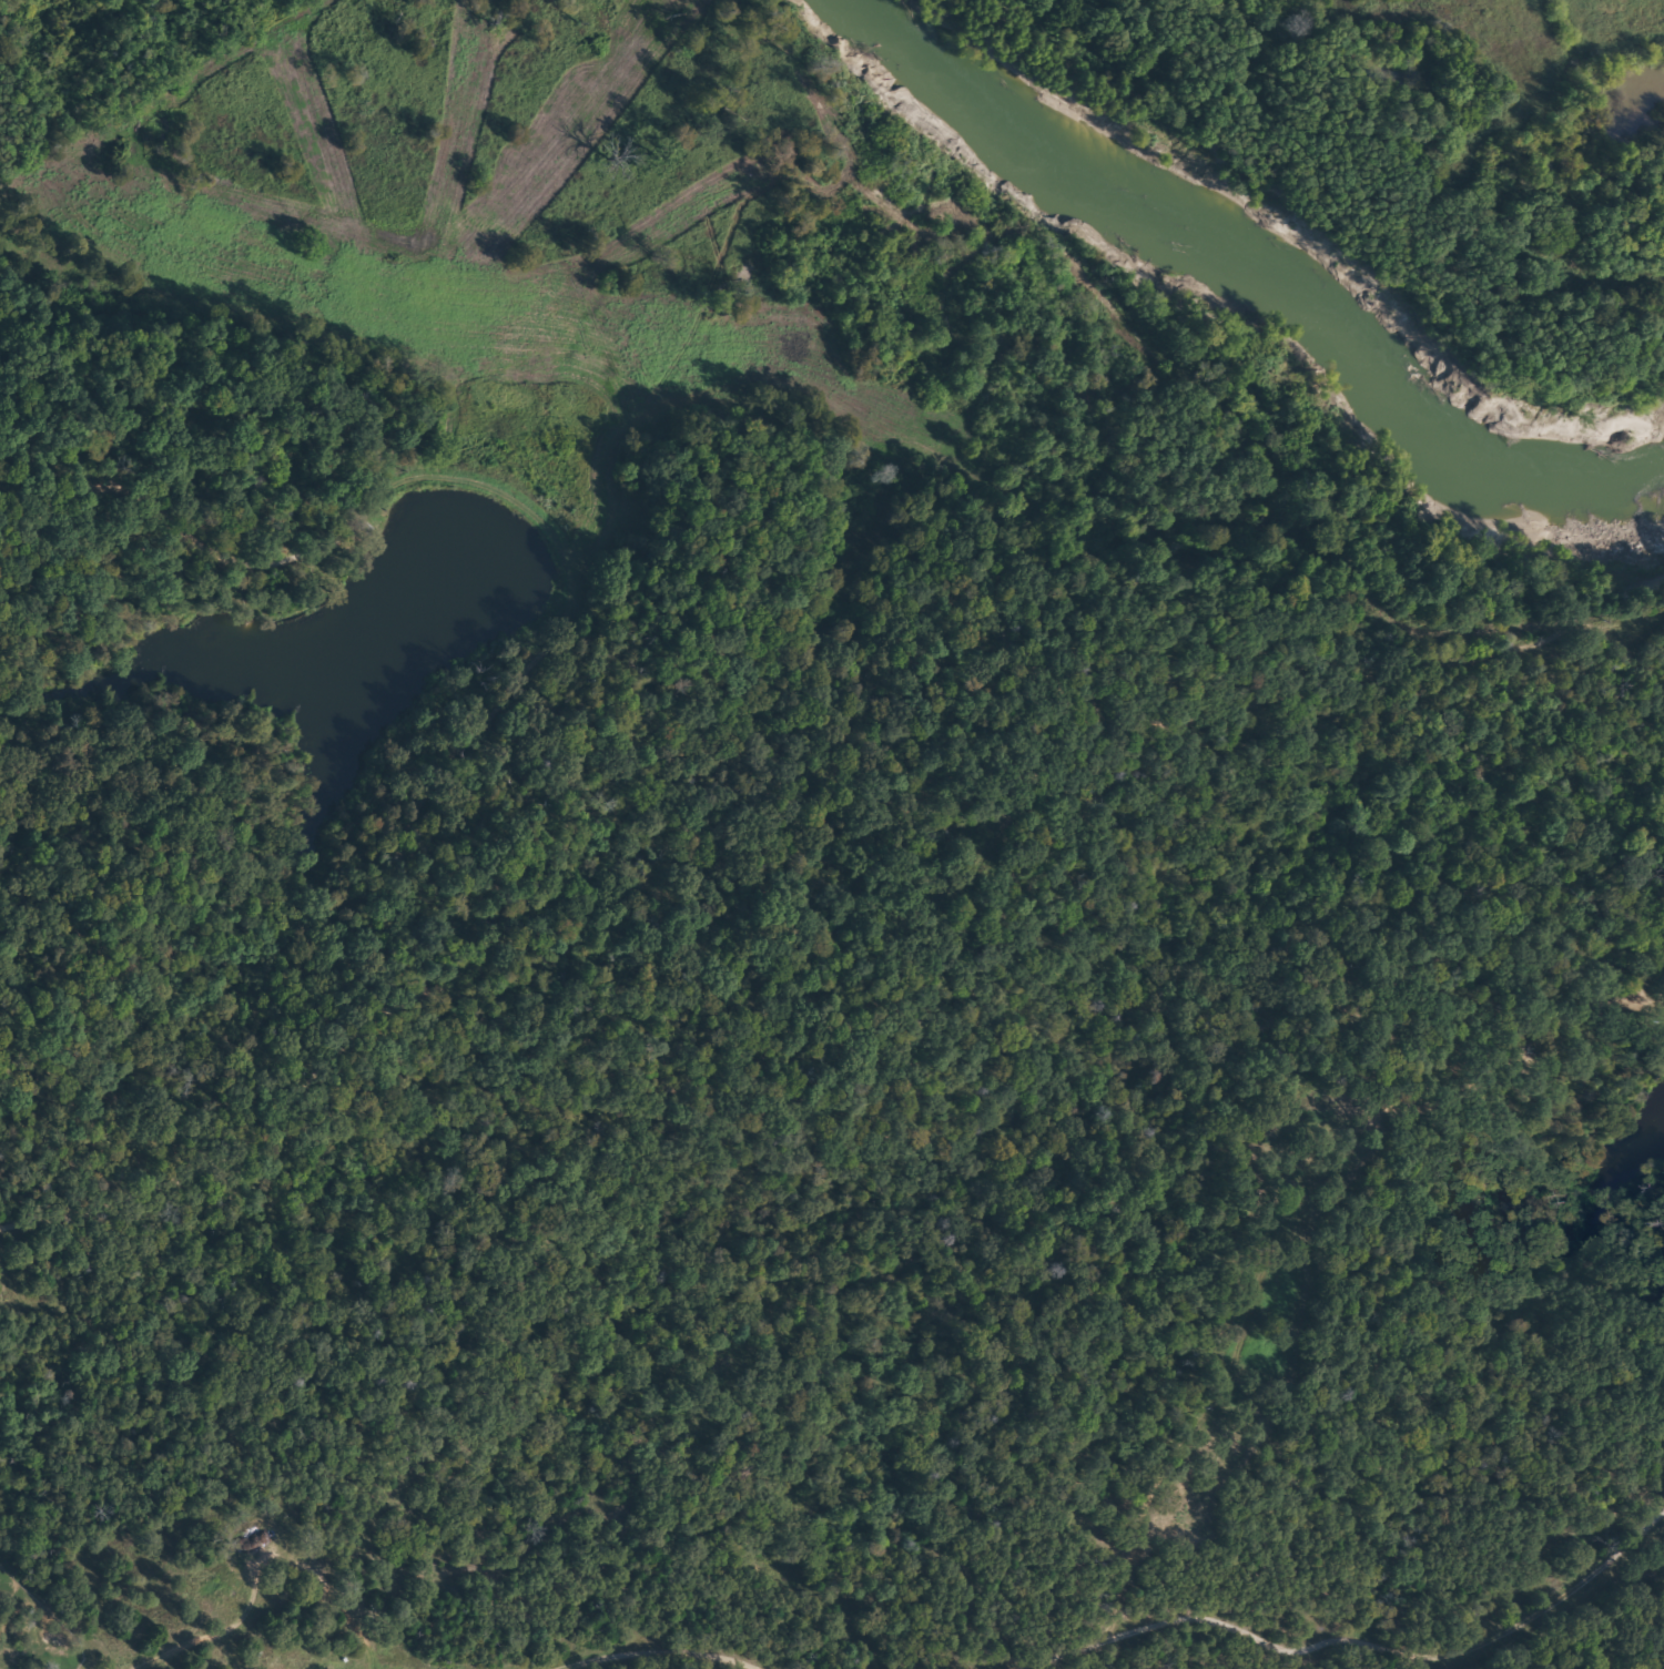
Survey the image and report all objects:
river: (1276, 282)
road: (122, 465)
road: (853, 949)
road: (1211, 1610)
road: (635, 1649)

